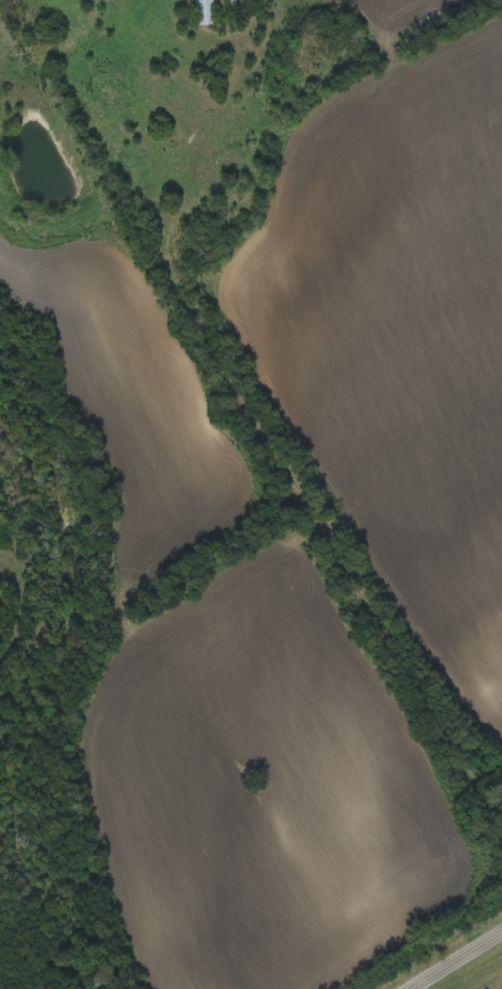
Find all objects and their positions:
building: (206, 11)
building: (234, 12)
road: (240, 434)
road: (456, 959)

